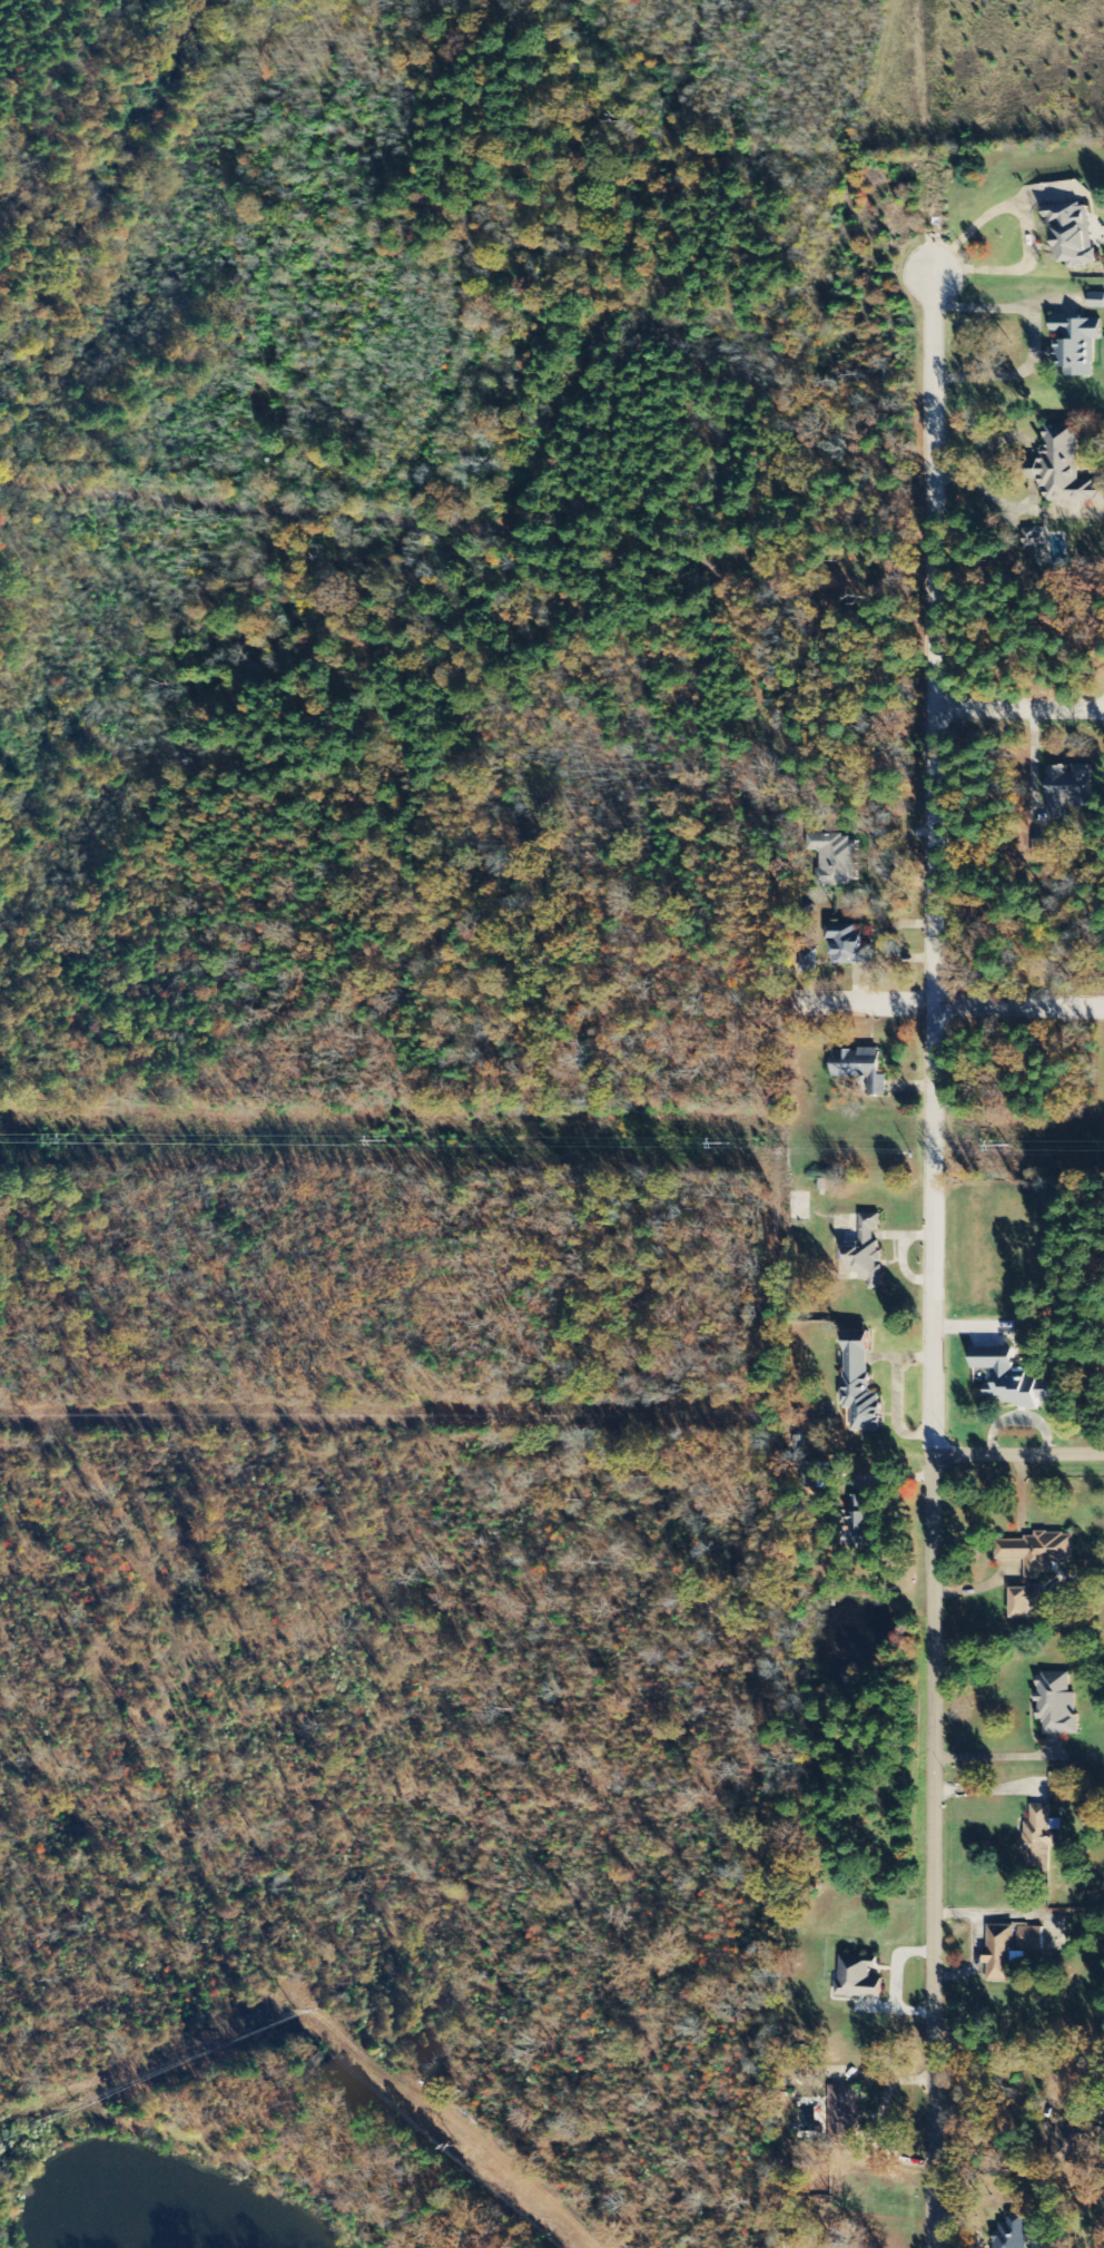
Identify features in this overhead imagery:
building: (1071, 236)
building: (1076, 344)
building: (1064, 469)
road: (346, 518)
road: (934, 639)
road: (1018, 710)
building: (1067, 789)
building: (831, 858)
building: (847, 945)
building: (806, 962)
road: (865, 1003)
road: (1019, 1007)
building: (859, 1069)
building: (866, 1253)
building: (1009, 1378)
building: (858, 1388)
road: (1019, 1455)
building: (860, 1521)
building: (1038, 1552)
building: (1024, 1602)
road: (935, 1626)
building: (1056, 1705)
building: (1041, 1836)
building: (1011, 1946)
building: (857, 1980)
building: (842, 2113)
building: (1012, 2231)
building: (832, 2247)

